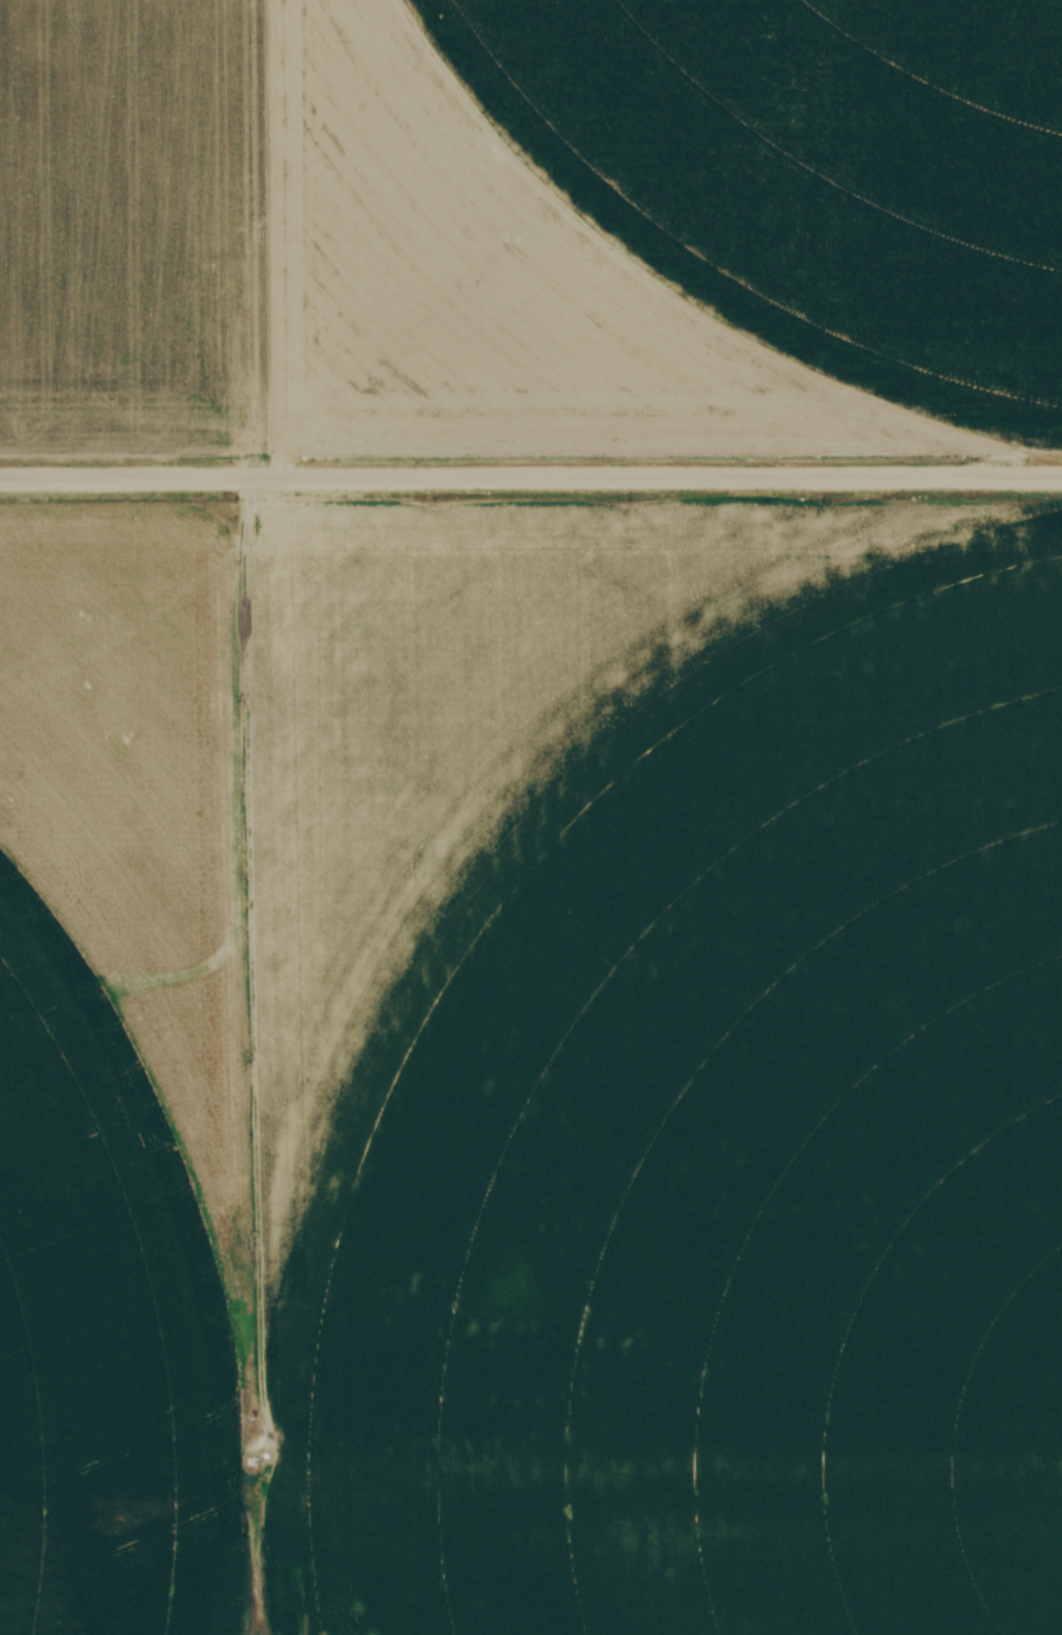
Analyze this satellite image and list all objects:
road: (531, 482)

